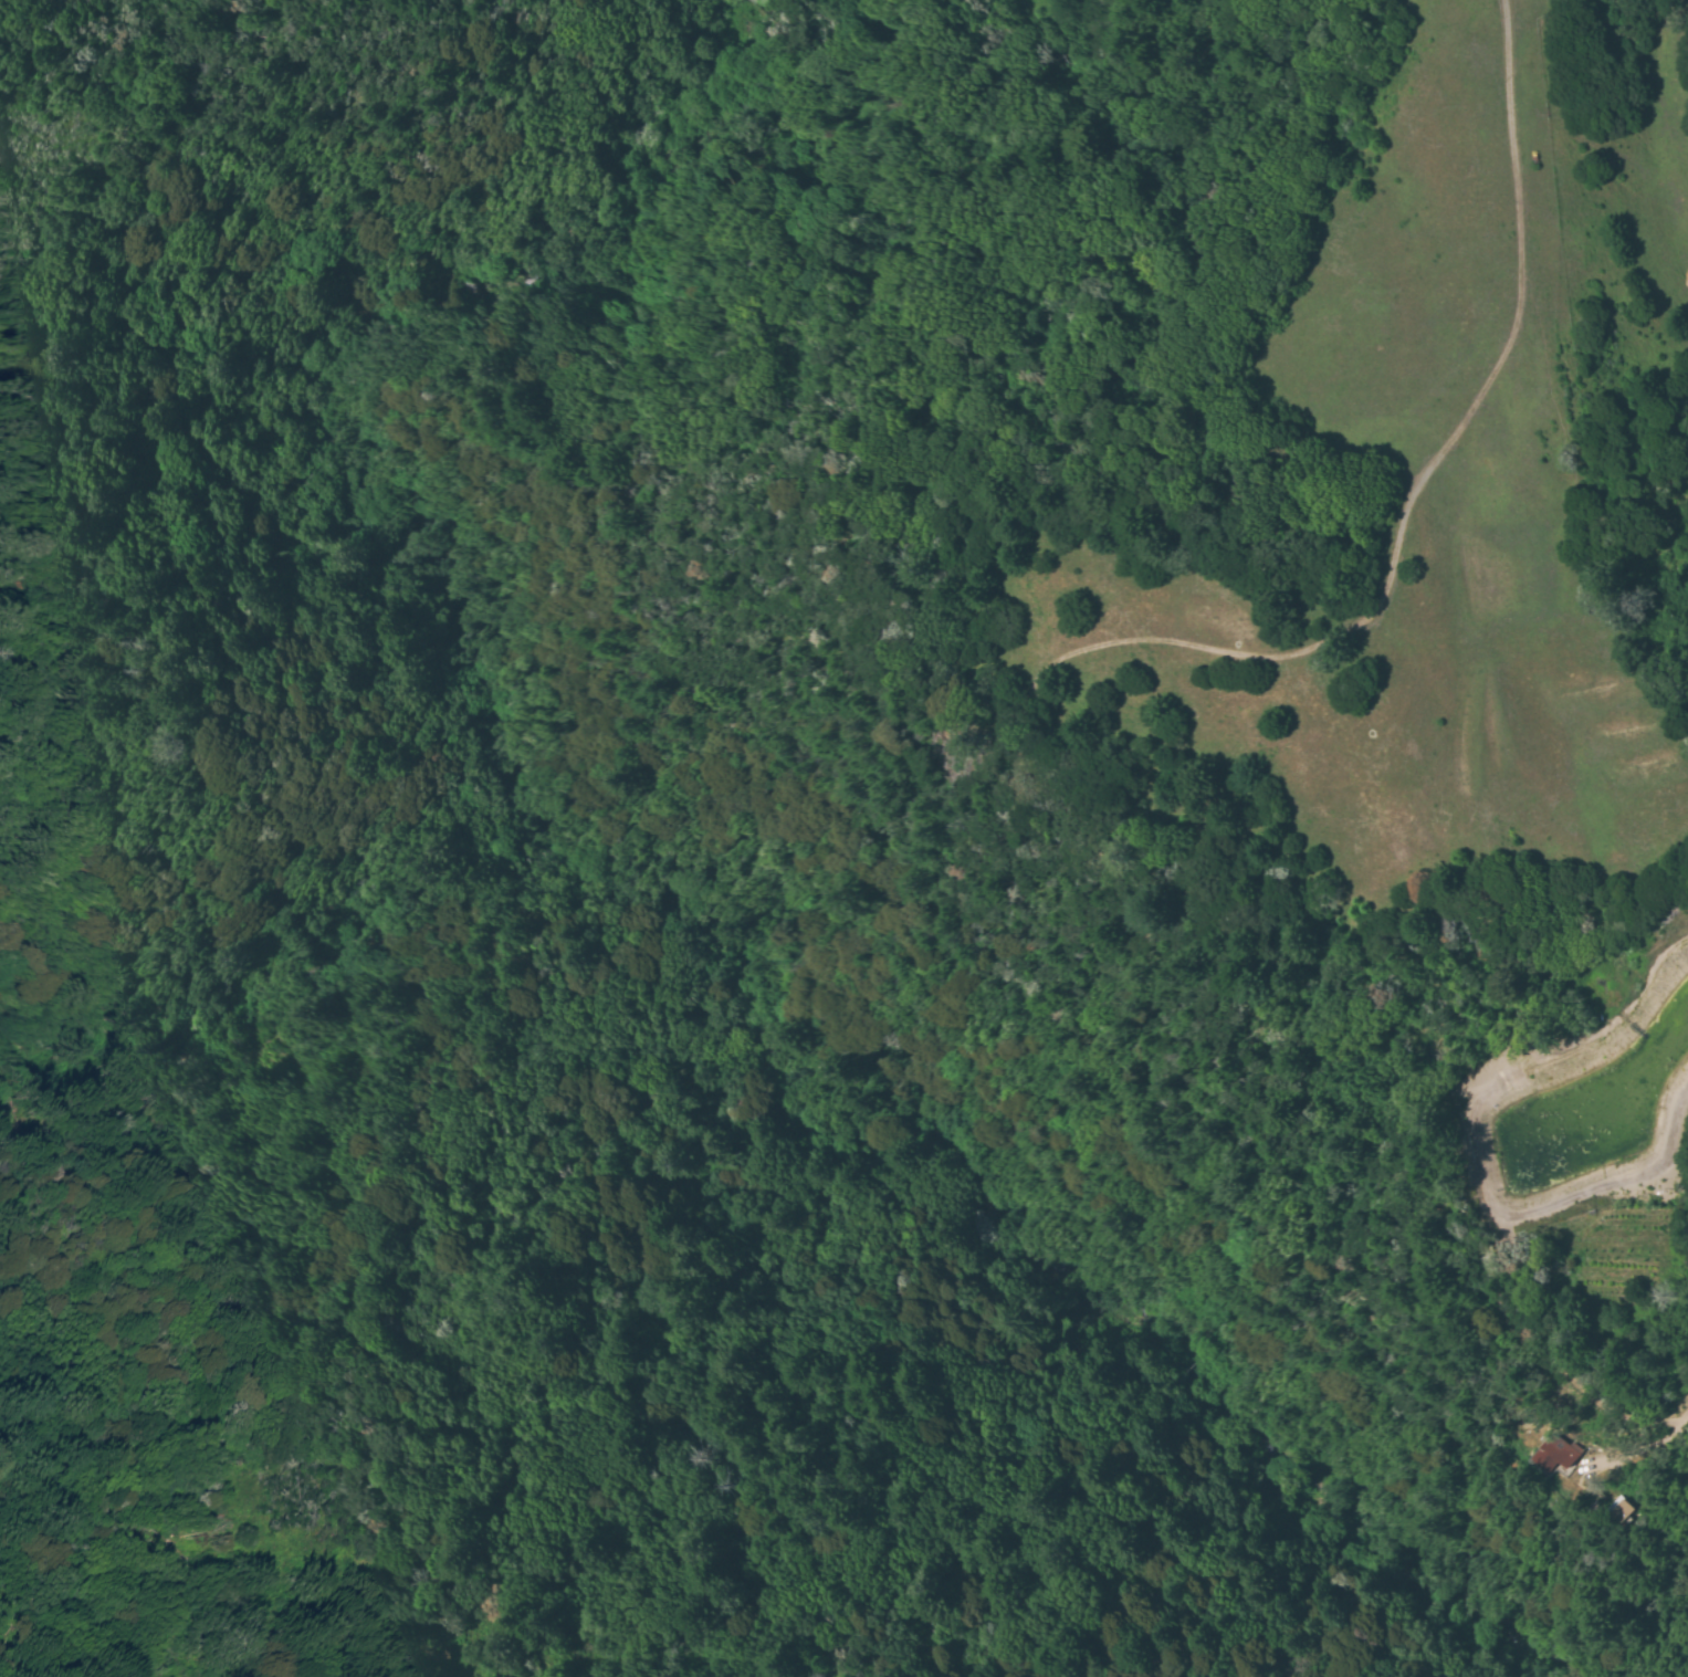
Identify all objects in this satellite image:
road: (1519, 303)
building: (1555, 1453)
building: (1621, 1509)

